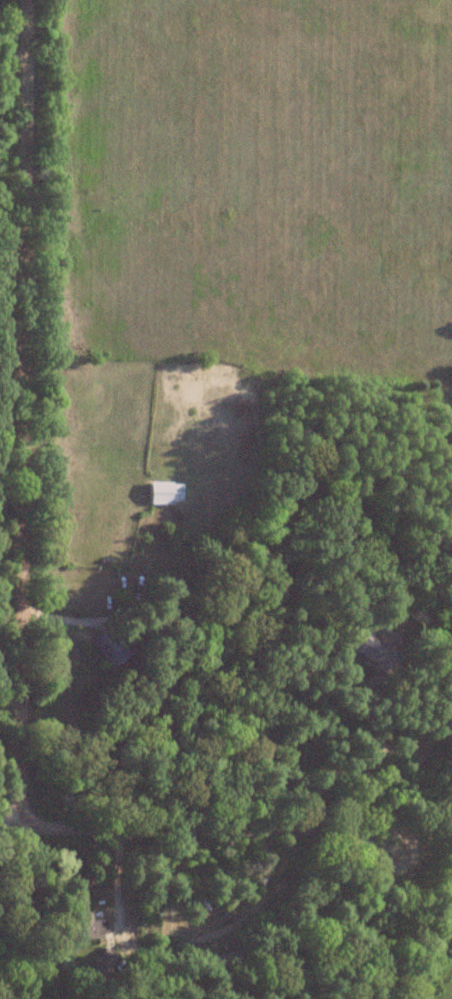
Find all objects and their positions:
road: (18, 439)
building: (165, 494)
building: (107, 649)
building: (365, 650)
road: (9, 801)
road: (234, 831)
building: (88, 928)

